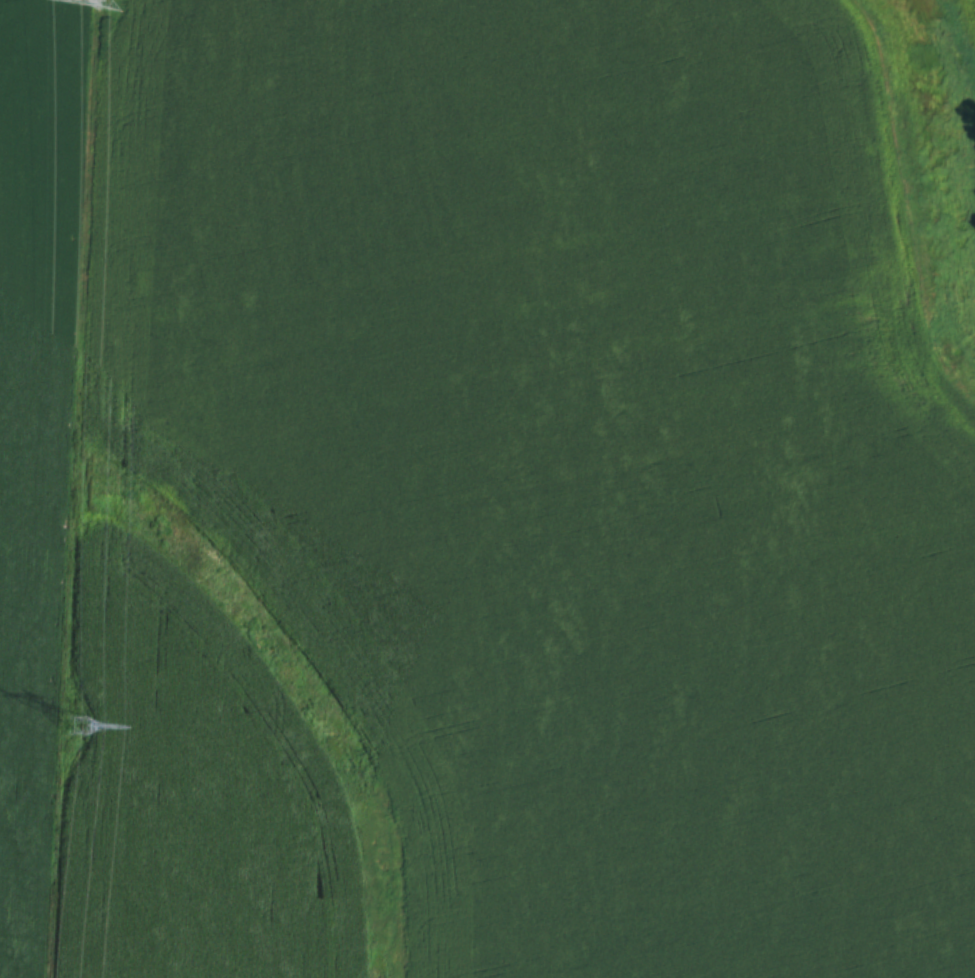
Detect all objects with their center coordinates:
power tower: (109, 4)
power tower: (75, 726)

